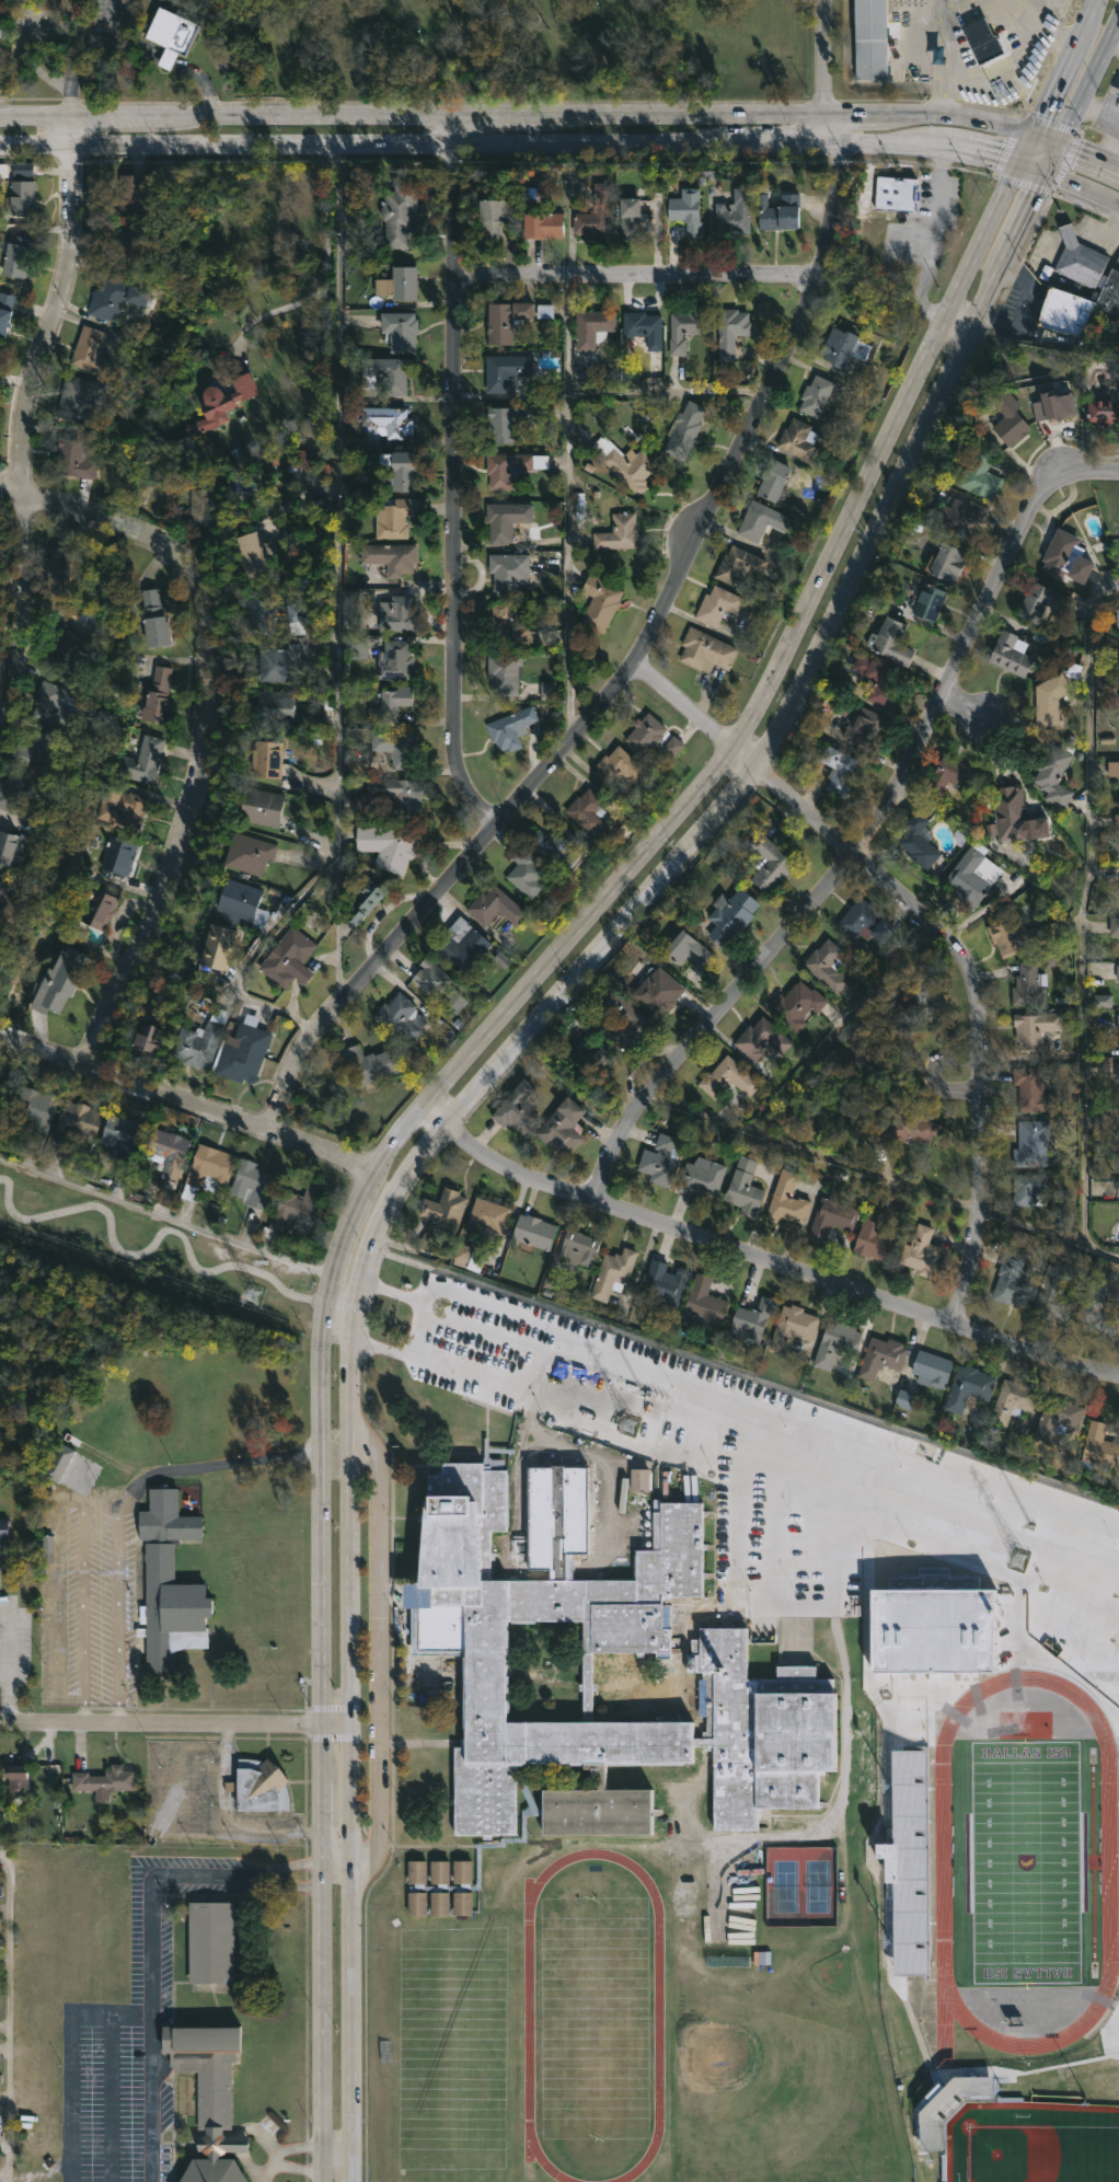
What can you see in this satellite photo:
road: (112, 20)
road: (1042, 24)
building: (171, 30)
building: (870, 38)
building: (983, 39)
park: (547, 48)
road: (92, 49)
road: (165, 57)
road: (835, 57)
road: (941, 58)
road: (35, 64)
road: (1062, 67)
road: (201, 81)
building: (1117, 92)
road: (1082, 94)
road: (419, 117)
road: (936, 117)
road: (842, 127)
traffic signals: (1033, 134)
road: (422, 145)
traffic signals: (1059, 145)
road: (947, 148)
road: (1075, 151)
traffic signals: (1020, 161)
building: (22, 172)
traffic signals: (1046, 172)
road: (1082, 187)
building: (130, 192)
building: (895, 194)
building: (21, 197)
building: (687, 210)
building: (735, 211)
building: (781, 213)
building: (399, 215)
building: (595, 215)
building: (495, 217)
building: (634, 221)
building: (542, 226)
road: (1068, 233)
road: (1101, 233)
road: (1047, 246)
building: (123, 253)
building: (15, 255)
building: (1077, 259)
road: (636, 272)
road: (321, 274)
building: (397, 282)
building: (1110, 293)
building: (116, 297)
road: (1022, 308)
building: (4, 309)
building: (544, 311)
building: (1060, 311)
building: (507, 320)
road: (955, 323)
building: (644, 327)
building: (688, 328)
building: (400, 331)
building: (730, 332)
building: (591, 334)
building: (843, 347)
building: (90, 350)
building: (507, 370)
building: (384, 374)
road: (14, 377)
road: (667, 390)
building: (816, 395)
building: (79, 397)
building: (221, 403)
building: (1058, 405)
building: (1104, 411)
road: (23, 414)
building: (508, 420)
building: (1011, 420)
building: (388, 422)
building: (683, 430)
building: (798, 439)
building: (72, 458)
building: (298, 459)
building: (628, 465)
building: (511, 467)
building: (403, 473)
road: (452, 477)
building: (981, 477)
building: (773, 481)
building: (201, 507)
road: (567, 508)
building: (961, 515)
building: (394, 519)
building: (761, 520)
building: (506, 521)
building: (619, 533)
building: (252, 556)
building: (390, 557)
building: (1066, 557)
building: (948, 563)
building: (738, 564)
building: (508, 569)
building: (57, 572)
building: (930, 602)
building: (601, 603)
building: (1042, 603)
building: (717, 604)
building: (395, 611)
building: (1118, 616)
building: (154, 617)
building: (297, 617)
building: (261, 619)
road: (338, 625)
building: (508, 627)
building: (891, 639)
building: (69, 643)
building: (360, 647)
building: (706, 649)
building: (1012, 653)
building: (276, 659)
building: (394, 659)
road: (789, 659)
building: (504, 669)
road: (624, 671)
building: (879, 678)
road: (807, 686)
building: (549, 690)
building: (157, 694)
building: (1050, 700)
building: (274, 703)
building: (389, 704)
road: (959, 704)
building: (54, 705)
road: (186, 721)
building: (511, 727)
building: (863, 727)
building: (645, 732)
building: (672, 746)
building: (393, 747)
building: (37, 750)
building: (265, 755)
building: (142, 760)
building: (1114, 767)
building: (621, 769)
building: (839, 769)
building: (1053, 774)
building: (948, 776)
building: (21, 789)
building: (394, 790)
building: (259, 806)
building: (124, 810)
building: (589, 812)
building: (1011, 812)
building: (1116, 821)
road: (873, 830)
building: (920, 839)
building: (388, 844)
building: (557, 844)
building: (10, 850)
building: (247, 852)
building: (118, 854)
building: (770, 863)
building: (526, 873)
building: (972, 873)
building: (365, 898)
road: (1078, 901)
building: (240, 902)
building: (100, 904)
building: (495, 905)
building: (11, 910)
building: (731, 914)
building: (865, 921)
building: (1115, 925)
road: (942, 930)
building: (1016, 935)
building: (461, 944)
building: (217, 946)
building: (687, 949)
building: (289, 958)
building: (828, 963)
building: (0, 969)
building: (1118, 971)
building: (431, 978)
building: (57, 981)
building: (1028, 984)
building: (657, 992)
building: (454, 1001)
building: (1103, 1001)
building: (797, 1004)
building: (924, 1004)
building: (402, 1019)
building: (625, 1019)
building: (1118, 1021)
building: (1035, 1027)
building: (148, 1030)
building: (762, 1038)
building: (200, 1040)
building: (243, 1051)
building: (599, 1058)
building: (369, 1062)
building: (1117, 1070)
building: (728, 1077)
road: (961, 1083)
building: (1033, 1090)
road: (188, 1100)
building: (518, 1108)
road: (434, 1112)
building: (38, 1113)
building: (1100, 1121)
building: (77, 1123)
building: (563, 1125)
building: (904, 1128)
building: (124, 1136)
road: (397, 1136)
building: (1031, 1143)
building: (168, 1152)
road: (422, 1152)
building: (660, 1159)
building: (206, 1169)
road: (882, 1175)
building: (702, 1176)
building: (253, 1185)
building: (745, 1187)
building: (1118, 1188)
building: (1028, 1189)
building: (787, 1200)
building: (296, 1208)
building: (446, 1208)
building: (1058, 1210)
building: (489, 1214)
building: (832, 1216)
road: (166, 1217)
road: (346, 1231)
building: (534, 1231)
building: (874, 1234)
road: (370, 1242)
building: (577, 1246)
building: (921, 1251)
building: (463, 1255)
road: (775, 1260)
building: (613, 1272)
building: (552, 1280)
building: (1012, 1280)
building: (667, 1283)
power tower: (252, 1295)
building: (1053, 1295)
road: (341, 1300)
building: (705, 1300)
building: (1098, 1308)
building: (753, 1316)
road: (416, 1325)
building: (793, 1328)
building: (835, 1342)
building: (881, 1356)
building: (933, 1369)
road: (323, 1372)
road: (684, 1374)
road: (349, 1376)
building: (969, 1386)
building: (905, 1399)
building: (1013, 1402)
road: (653, 1407)
building: (1058, 1417)
power tower: (631, 1424)
building: (1100, 1445)
road: (337, 1448)
building: (59, 1462)
road: (219, 1465)
parking lot: (783, 1471)
road: (860, 1478)
road: (754, 1488)
road: (104, 1497)
building: (3, 1532)
building: (47, 1549)
power tower: (1017, 1563)
building: (170, 1582)
road: (325, 1585)
road: (351, 1585)
road: (768, 1604)
building: (935, 1620)
road: (378, 1652)
road: (13, 1661)
building: (498, 1673)
road: (162, 1722)
road: (339, 1722)
building: (15, 1776)
building: (104, 1780)
building: (261, 1785)
building: (909, 1860)
park: (1025, 1860)
road: (338, 1864)
road: (279, 1875)
building: (210, 1940)
road: (325, 1952)
road: (351, 1952)
road: (152, 1988)
park: (595, 2017)
road: (9, 2018)
park: (452, 2047)
building: (208, 2097)
building: (949, 2106)
park: (1031, 2141)
road: (337, 2155)
road: (289, 2159)
road: (9, 2181)

